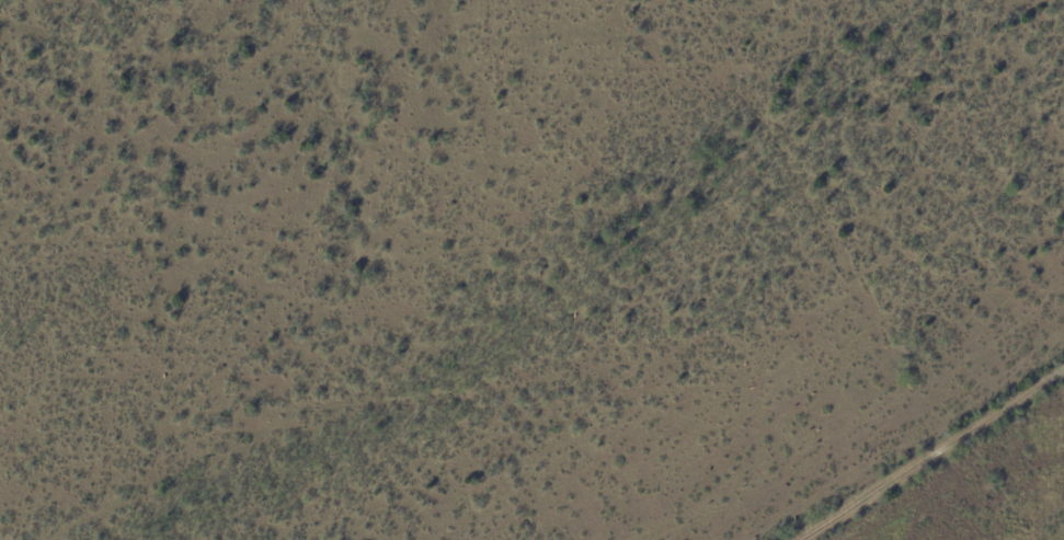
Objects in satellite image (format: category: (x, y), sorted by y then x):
road: (934, 455)

